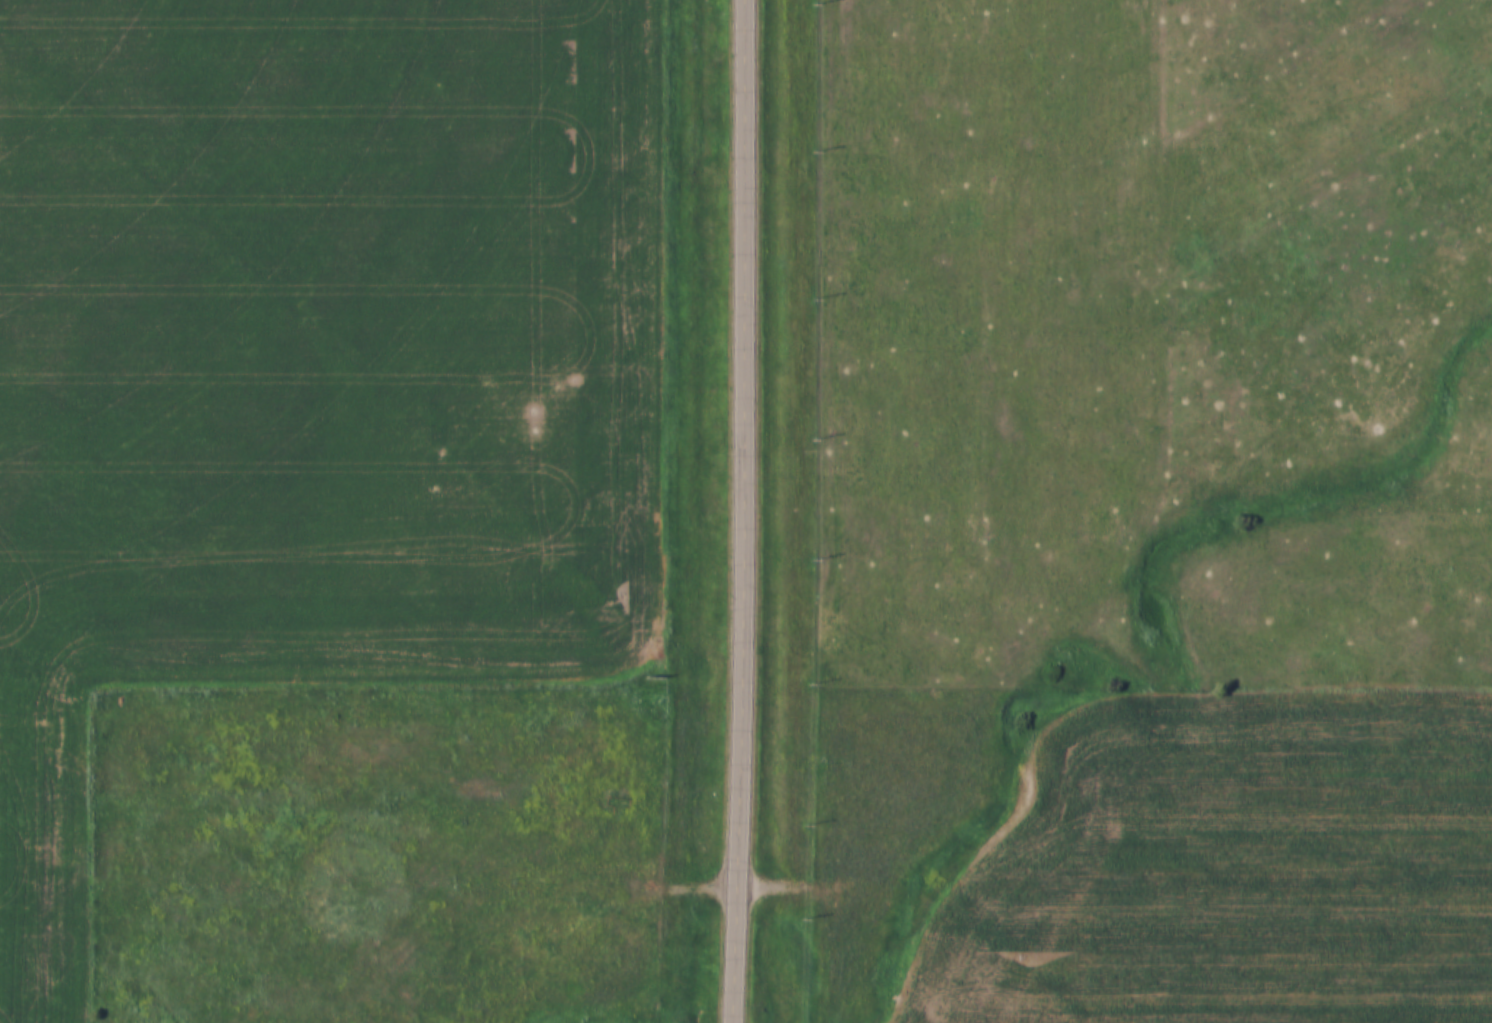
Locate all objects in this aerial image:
crop: (309, 371)
road: (742, 511)
crop: (1233, 871)

